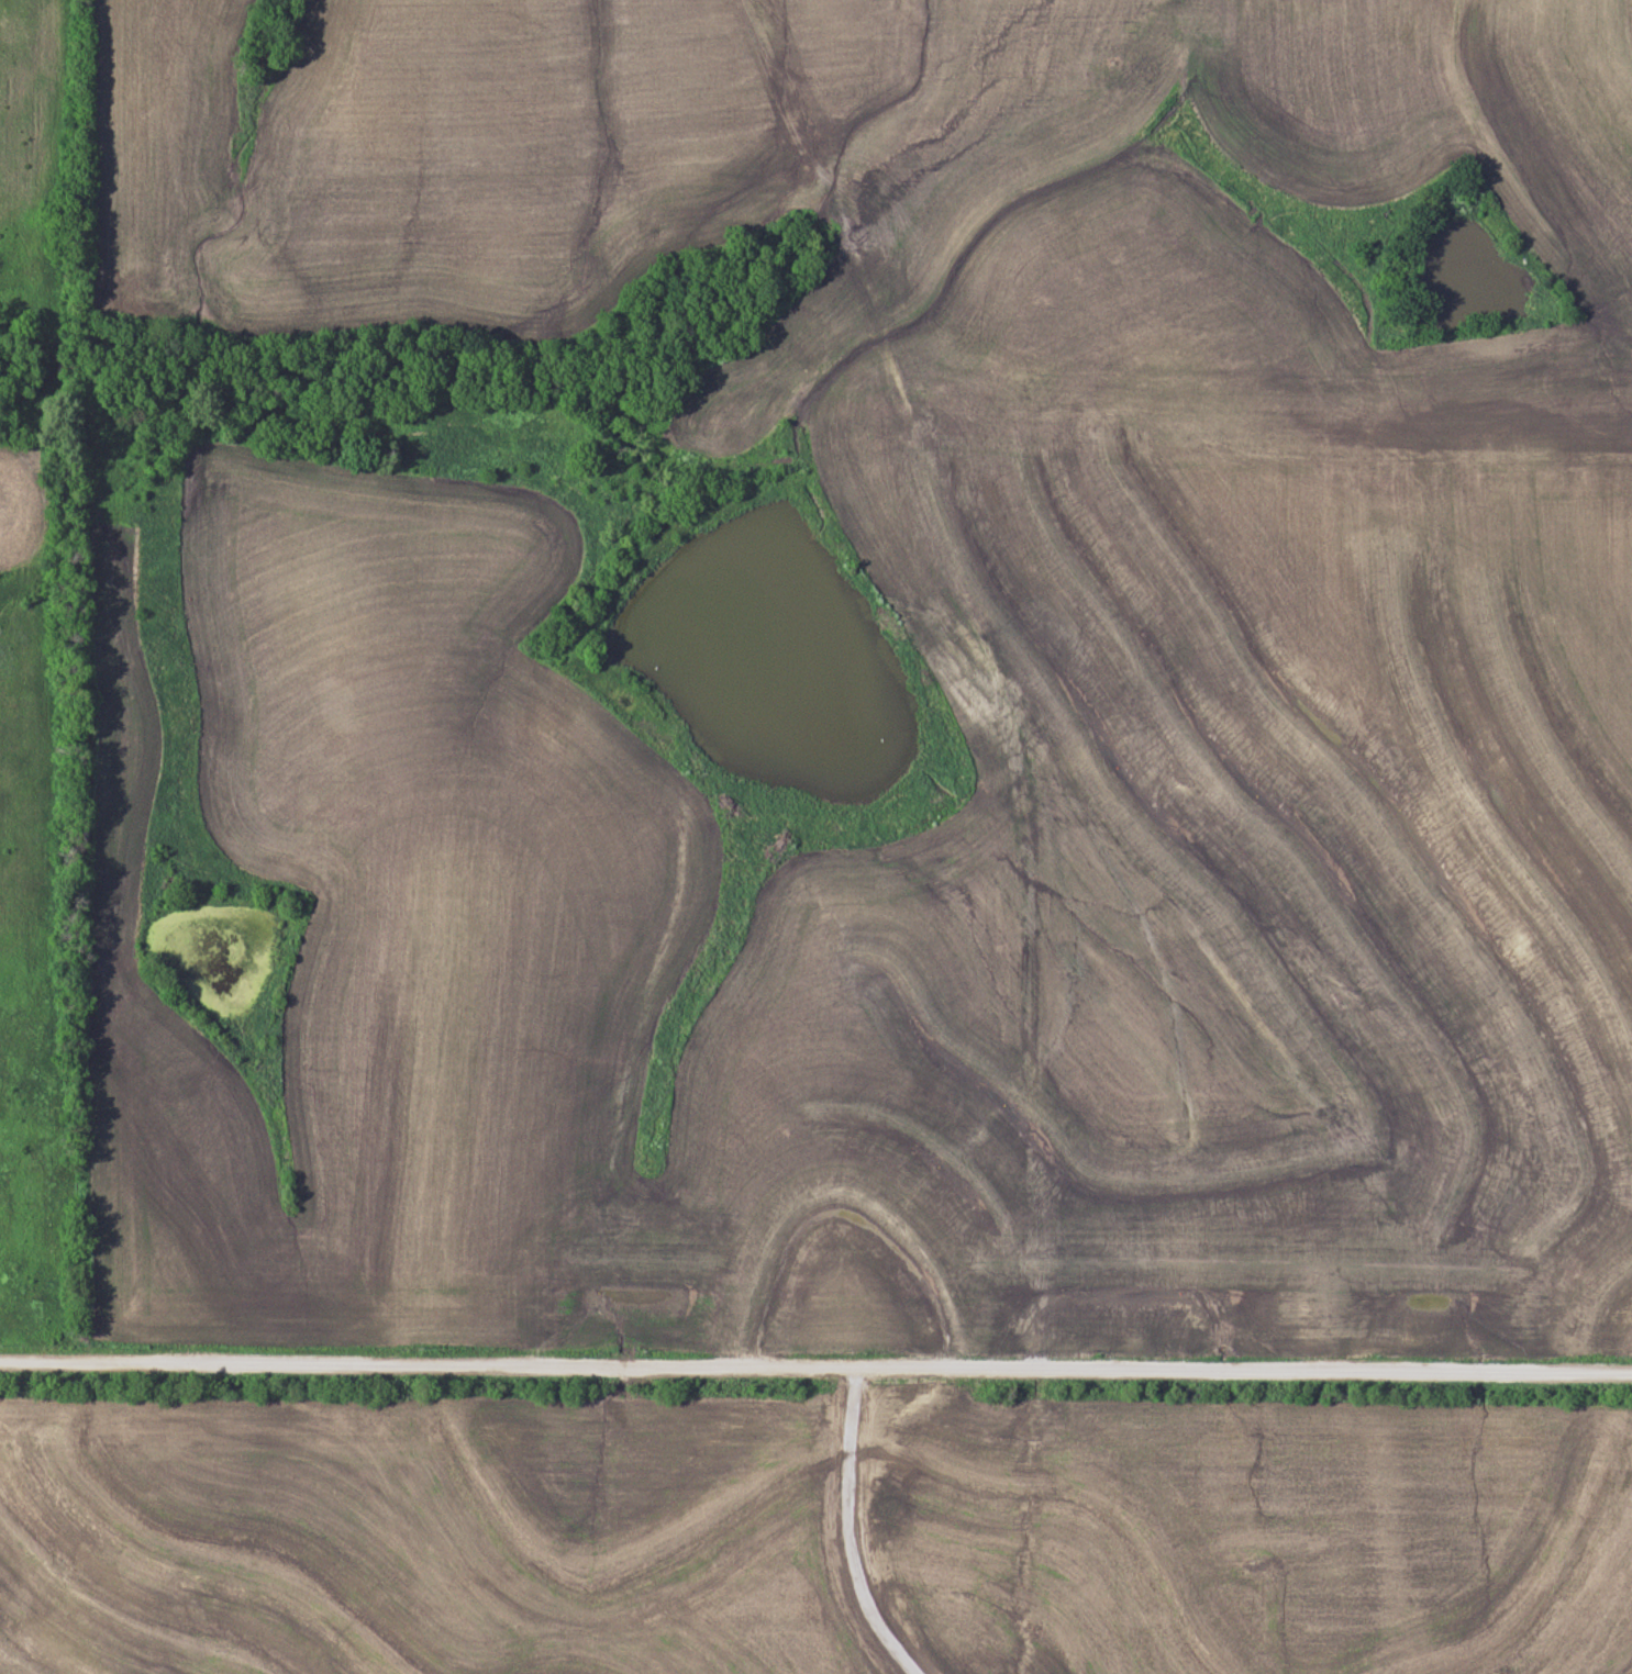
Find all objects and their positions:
road: (815, 1365)

